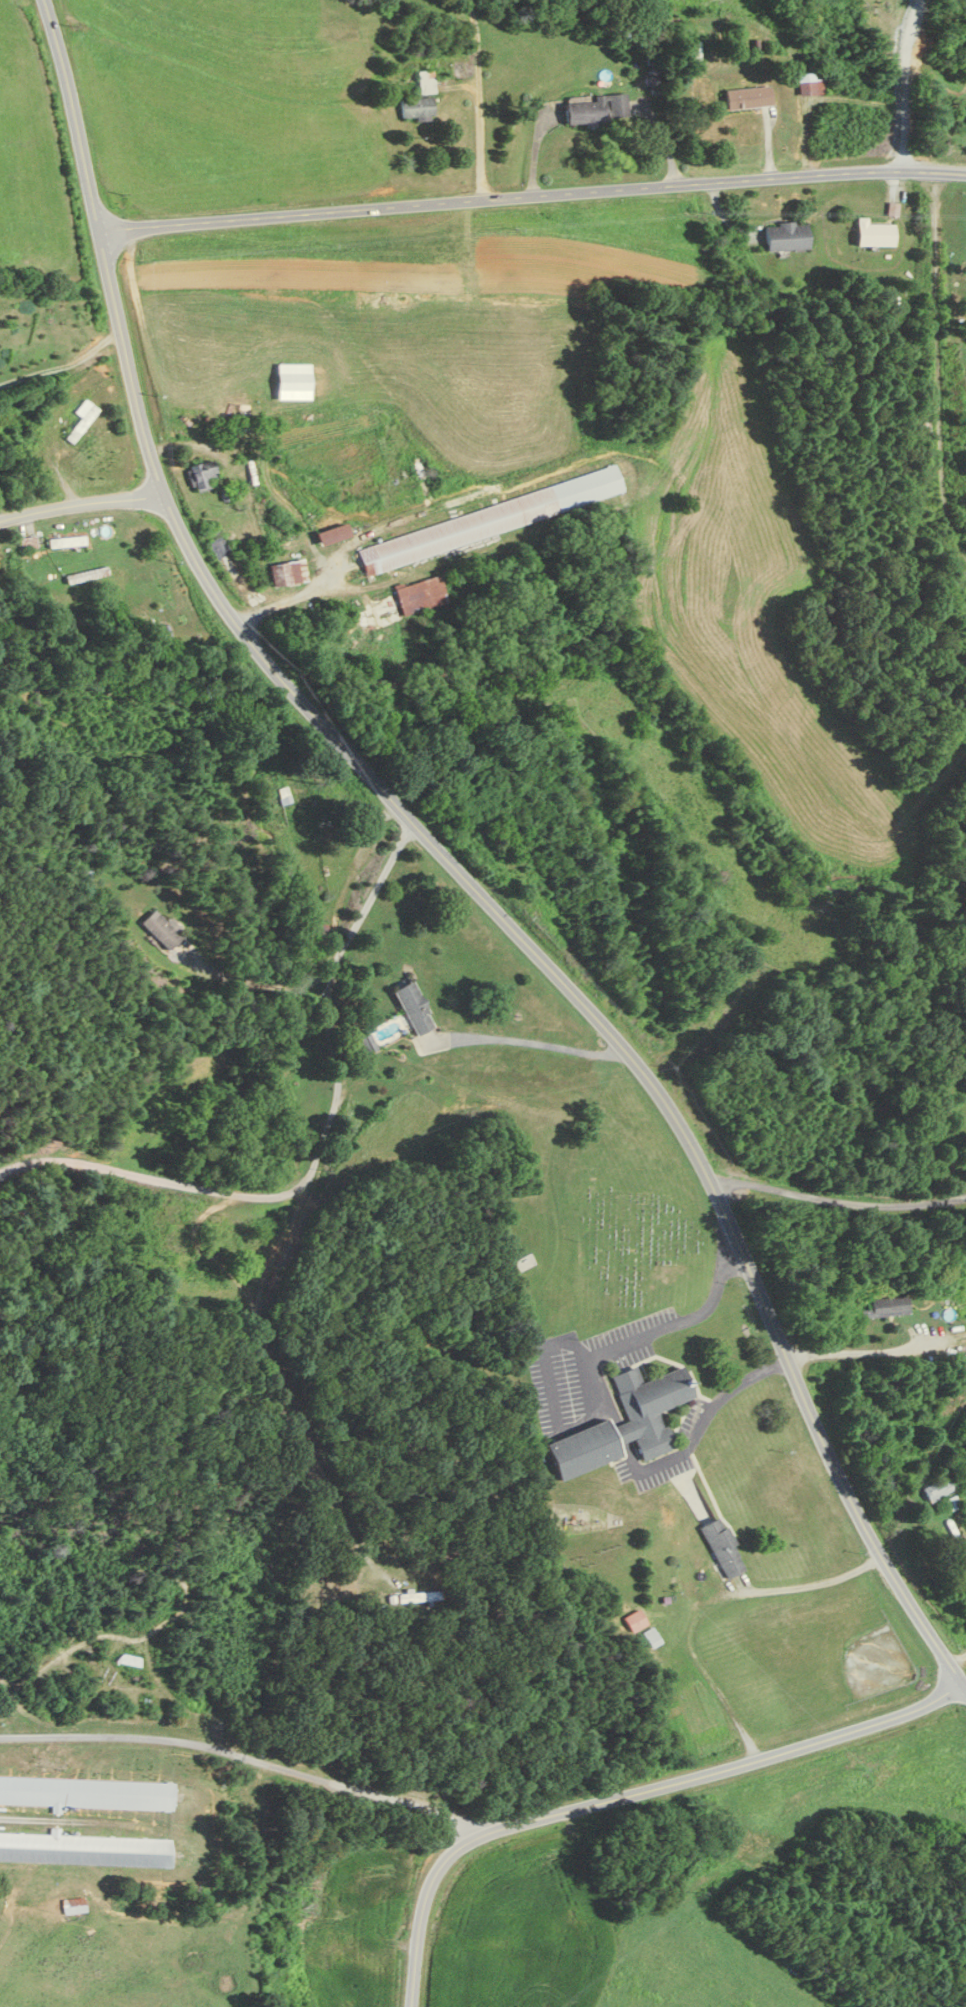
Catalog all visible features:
building: (425, 81)
road: (903, 82)
building: (748, 96)
road: (478, 99)
road: (442, 101)
building: (415, 108)
building: (597, 109)
road: (531, 196)
building: (874, 233)
building: (786, 236)
road: (939, 364)
building: (80, 421)
building: (202, 475)
road: (13, 485)
road: (81, 502)
building: (490, 520)
building: (27, 542)
building: (65, 542)
building: (287, 572)
building: (421, 595)
road: (450, 862)
building: (161, 931)
building: (414, 1009)
road: (529, 1040)
building: (365, 1046)
road: (320, 1149)
road: (838, 1201)
building: (524, 1261)
building: (965, 1291)
building: (887, 1308)
road: (574, 1344)
road: (871, 1349)
road: (304, 1402)
road: (709, 1411)
building: (625, 1424)
building: (938, 1489)
building: (946, 1529)
building: (723, 1546)
building: (419, 1596)
road: (711, 1602)
building: (635, 1620)
building: (650, 1637)
road: (957, 1655)
building: (130, 1659)
road: (244, 1756)
building: (87, 1792)
road: (628, 1794)
building: (85, 1849)
road: (173, 1869)
building: (73, 1904)

